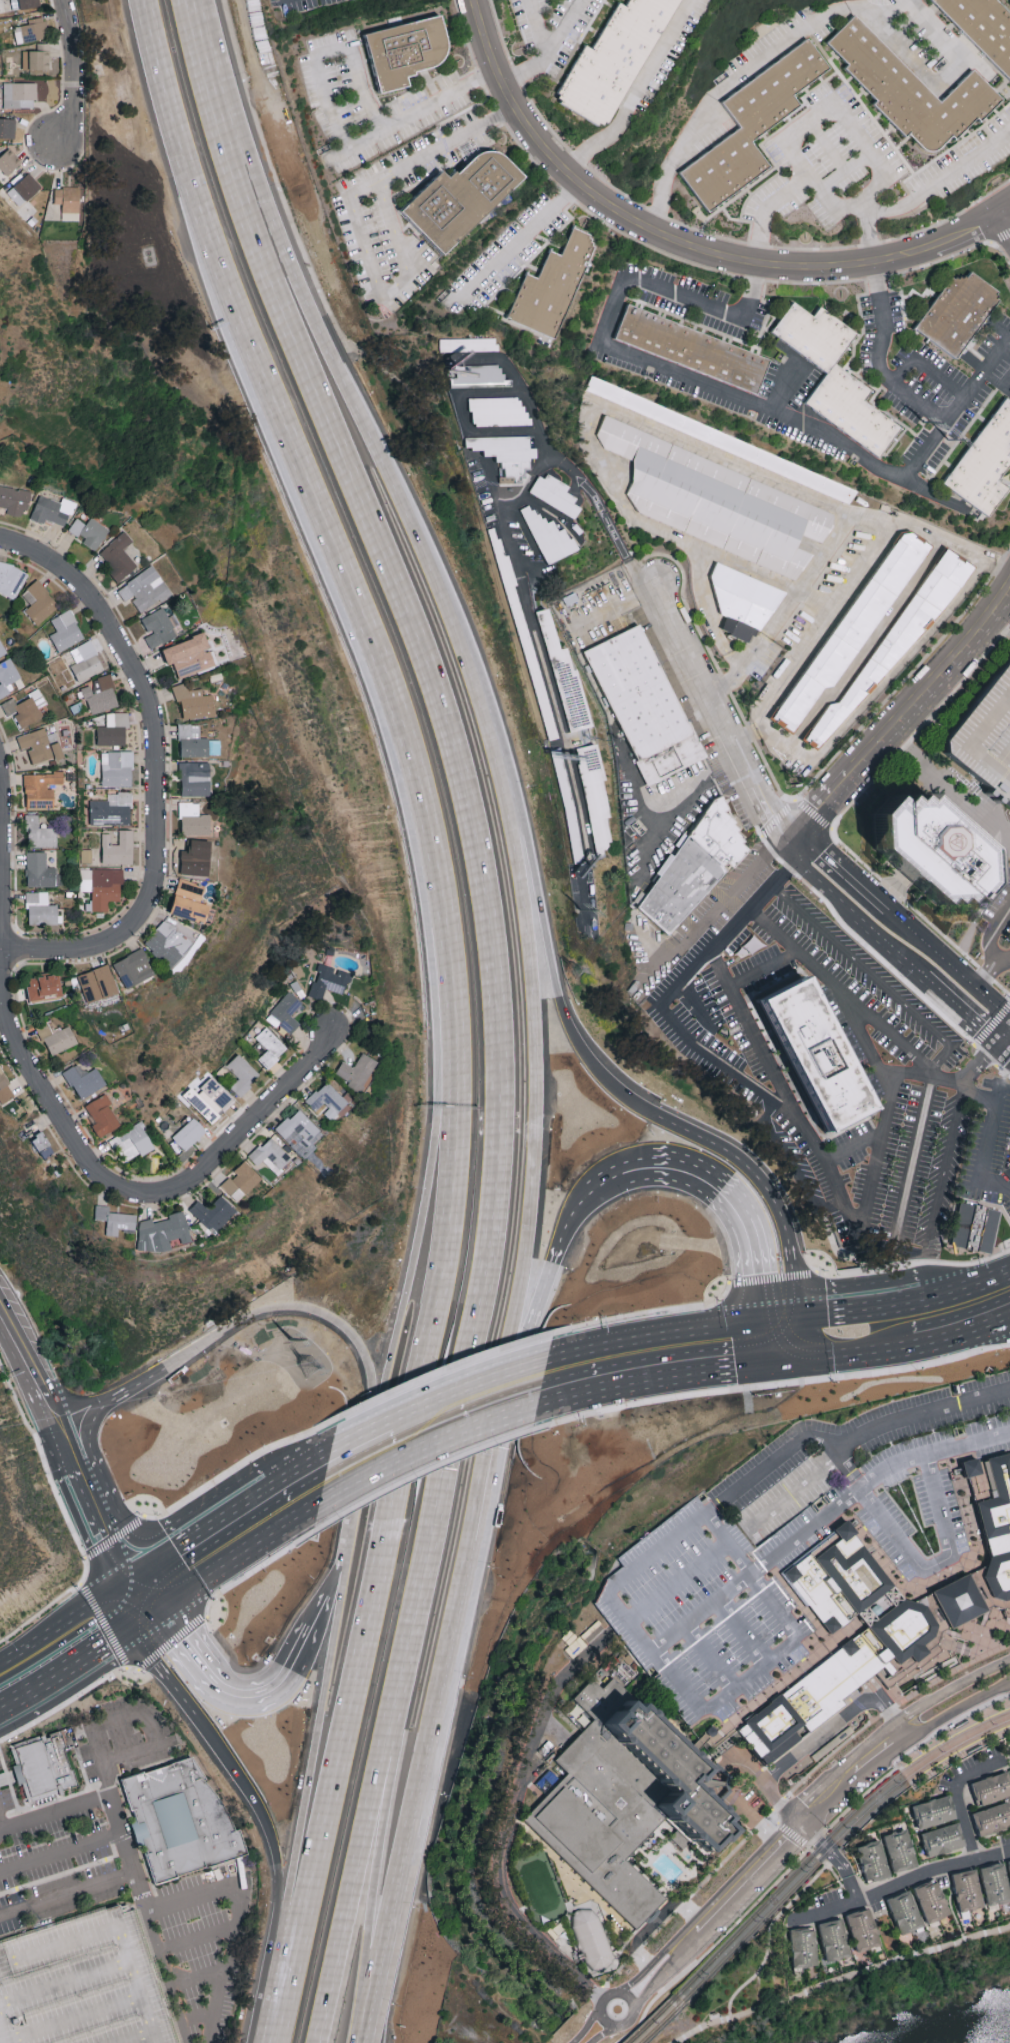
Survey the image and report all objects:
road: (870, 2)
building: (28, 3)
building: (984, 25)
building: (31, 29)
road: (564, 29)
road: (202, 41)
road: (545, 50)
building: (36, 58)
building: (413, 59)
building: (620, 63)
road: (979, 63)
road: (357, 64)
road: (79, 74)
road: (938, 82)
road: (723, 89)
road: (640, 91)
building: (19, 94)
building: (632, 96)
building: (915, 96)
road: (823, 106)
road: (530, 116)
building: (7, 126)
building: (756, 133)
road: (828, 142)
road: (184, 145)
building: (9, 160)
road: (847, 168)
park: (825, 175)
building: (24, 188)
road: (916, 194)
building: (68, 197)
building: (464, 205)
road: (765, 208)
road: (1009, 210)
road: (1009, 212)
road: (392, 228)
road: (518, 240)
road: (813, 269)
building: (553, 285)
building: (962, 319)
road: (1006, 344)
building: (465, 347)
road: (612, 351)
building: (694, 354)
road: (875, 360)
road: (923, 365)
road: (340, 375)
building: (480, 376)
road: (996, 381)
building: (839, 382)
road: (782, 384)
road: (526, 401)
road: (955, 404)
building: (497, 410)
road: (465, 419)
power tower: (923, 422)
building: (718, 437)
power tower: (950, 440)
road: (712, 451)
building: (506, 454)
building: (987, 468)
building: (715, 478)
road: (906, 483)
road: (492, 489)
building: (554, 494)
building: (13, 500)
building: (51, 509)
building: (717, 529)
building: (89, 531)
building: (548, 535)
road: (25, 550)
building: (118, 556)
building: (10, 579)
building: (144, 589)
building: (742, 600)
building: (39, 602)
road: (527, 604)
road: (612, 606)
building: (850, 624)
building: (159, 627)
road: (369, 629)
building: (65, 630)
building: (523, 631)
building: (892, 635)
road: (719, 639)
building: (2, 649)
building: (190, 654)
building: (85, 660)
building: (562, 675)
building: (7, 676)
building: (100, 694)
building: (194, 701)
building: (643, 703)
building: (25, 707)
road: (903, 717)
road: (717, 719)
building: (113, 729)
building: (985, 739)
parking lot: (985, 739)
building: (196, 741)
building: (40, 745)
building: (117, 768)
building: (194, 778)
road: (468, 785)
building: (41, 789)
building: (593, 796)
road: (157, 799)
building: (566, 802)
building: (111, 808)
building: (193, 820)
road: (664, 825)
road: (1003, 829)
building: (39, 833)
building: (117, 848)
building: (931, 849)
building: (194, 858)
building: (39, 870)
road: (842, 871)
building: (698, 872)
road: (819, 879)
building: (101, 886)
building: (189, 901)
road: (541, 903)
road: (717, 906)
building: (40, 908)
power tower: (579, 913)
road: (996, 922)
road: (779, 935)
building: (172, 941)
road: (648, 942)
road: (888, 942)
road: (996, 953)
road: (946, 963)
building: (133, 968)
power tower: (575, 970)
road: (987, 972)
road: (874, 977)
road: (744, 979)
building: (330, 980)
building: (98, 983)
building: (44, 986)
road: (698, 1006)
road: (957, 1006)
building: (286, 1012)
road: (1008, 1017)
road: (853, 1020)
road: (1008, 1020)
road: (534, 1022)
road: (1000, 1027)
building: (56, 1037)
road: (897, 1039)
road: (1000, 1041)
traffic signals: (1000, 1041)
road: (690, 1043)
road: (1008, 1044)
building: (269, 1047)
road: (1008, 1047)
road: (759, 1050)
building: (814, 1053)
building: (356, 1071)
building: (241, 1073)
road: (917, 1076)
building: (84, 1080)
road: (949, 1083)
building: (5, 1088)
road: (987, 1092)
building: (210, 1099)
building: (326, 1100)
building: (102, 1115)
road: (64, 1120)
building: (300, 1132)
building: (189, 1133)
road: (990, 1139)
building: (133, 1142)
road: (852, 1144)
building: (271, 1154)
road: (877, 1154)
road: (733, 1157)
road: (916, 1163)
road: (945, 1170)
building: (241, 1181)
road: (606, 1185)
road: (996, 1185)
road: (424, 1209)
road: (735, 1209)
building: (214, 1212)
building: (115, 1219)
building: (162, 1232)
building: (972, 1232)
road: (875, 1240)
road: (913, 1249)
building: (863, 1276)
road: (789, 1281)
road: (542, 1285)
road: (986, 1286)
road: (943, 1300)
road: (326, 1315)
road: (848, 1318)
road: (1006, 1318)
traffic signals: (771, 1331)
road: (970, 1332)
road: (764, 1339)
power tower: (289, 1341)
road: (655, 1345)
traffic signals: (757, 1347)
road: (878, 1353)
road: (789, 1354)
road: (642, 1364)
road: (756, 1367)
power tower: (311, 1368)
road: (673, 1376)
road: (628, 1384)
road: (130, 1386)
road: (461, 1392)
road: (568, 1396)
parking lot: (927, 1411)
road: (495, 1414)
road: (375, 1432)
road: (866, 1434)
road: (64, 1445)
road: (309, 1447)
road: (344, 1447)
parking lot: (938, 1448)
road: (930, 1453)
road: (387, 1461)
parking lot: (780, 1478)
road: (115, 1484)
road: (241, 1510)
road: (357, 1512)
road: (391, 1518)
parking lot: (887, 1527)
building: (996, 1527)
road: (263, 1536)
road: (936, 1564)
road: (754, 1570)
road: (142, 1575)
road: (678, 1584)
traffic signals: (127, 1585)
road: (180, 1589)
road: (140, 1595)
road: (338, 1600)
building: (956, 1600)
road: (132, 1601)
parking lot: (714, 1603)
road: (145, 1611)
road: (331, 1618)
road: (64, 1626)
road: (740, 1631)
road: (635, 1633)
road: (107, 1637)
road: (173, 1637)
road: (153, 1640)
building: (881, 1646)
road: (317, 1653)
road: (707, 1657)
road: (69, 1661)
road: (31, 1685)
road: (185, 1687)
road: (951, 1690)
road: (288, 1693)
road: (221, 1698)
road: (432, 1712)
road: (957, 1714)
road: (125, 1718)
road: (834, 1721)
parking lot: (125, 1739)
road: (879, 1752)
railway: (895, 1764)
road: (722, 1767)
building: (42, 1769)
railway: (898, 1776)
road: (373, 1783)
road: (389, 1783)
railway: (901, 1784)
railway: (909, 1784)
building: (992, 1787)
road: (829, 1797)
building: (624, 1798)
road: (957, 1799)
parking lot: (2, 1810)
building: (935, 1811)
road: (302, 1812)
building: (992, 1818)
building: (181, 1823)
road: (1, 1826)
road: (508, 1833)
building: (944, 1838)
building: (902, 1850)
road: (61, 1852)
road: (838, 1857)
road: (276, 1859)
building: (874, 1860)
building: (1009, 1862)
road: (131, 1863)
parking lot: (59, 1871)
road: (749, 1876)
road: (903, 1882)
building: (996, 1882)
building: (969, 1889)
road: (67, 1897)
building: (933, 1900)
building: (906, 1911)
park: (562, 1912)
road: (237, 1915)
building: (864, 1928)
railway: (740, 1929)
road: (770, 1930)
railway: (746, 1935)
building: (592, 1937)
building: (834, 1939)
road: (685, 1941)
road: (197, 1942)
parking lot: (204, 1946)
building: (804, 1947)
road: (673, 1951)
road: (198, 1978)
road: (842, 1978)
building: (82, 1984)
parking lot: (82, 1984)
road: (607, 1996)
road: (198, 2018)
railway: (652, 2019)
railway: (661, 2022)
road: (587, 2026)
road: (604, 2034)
road: (258, 2035)

